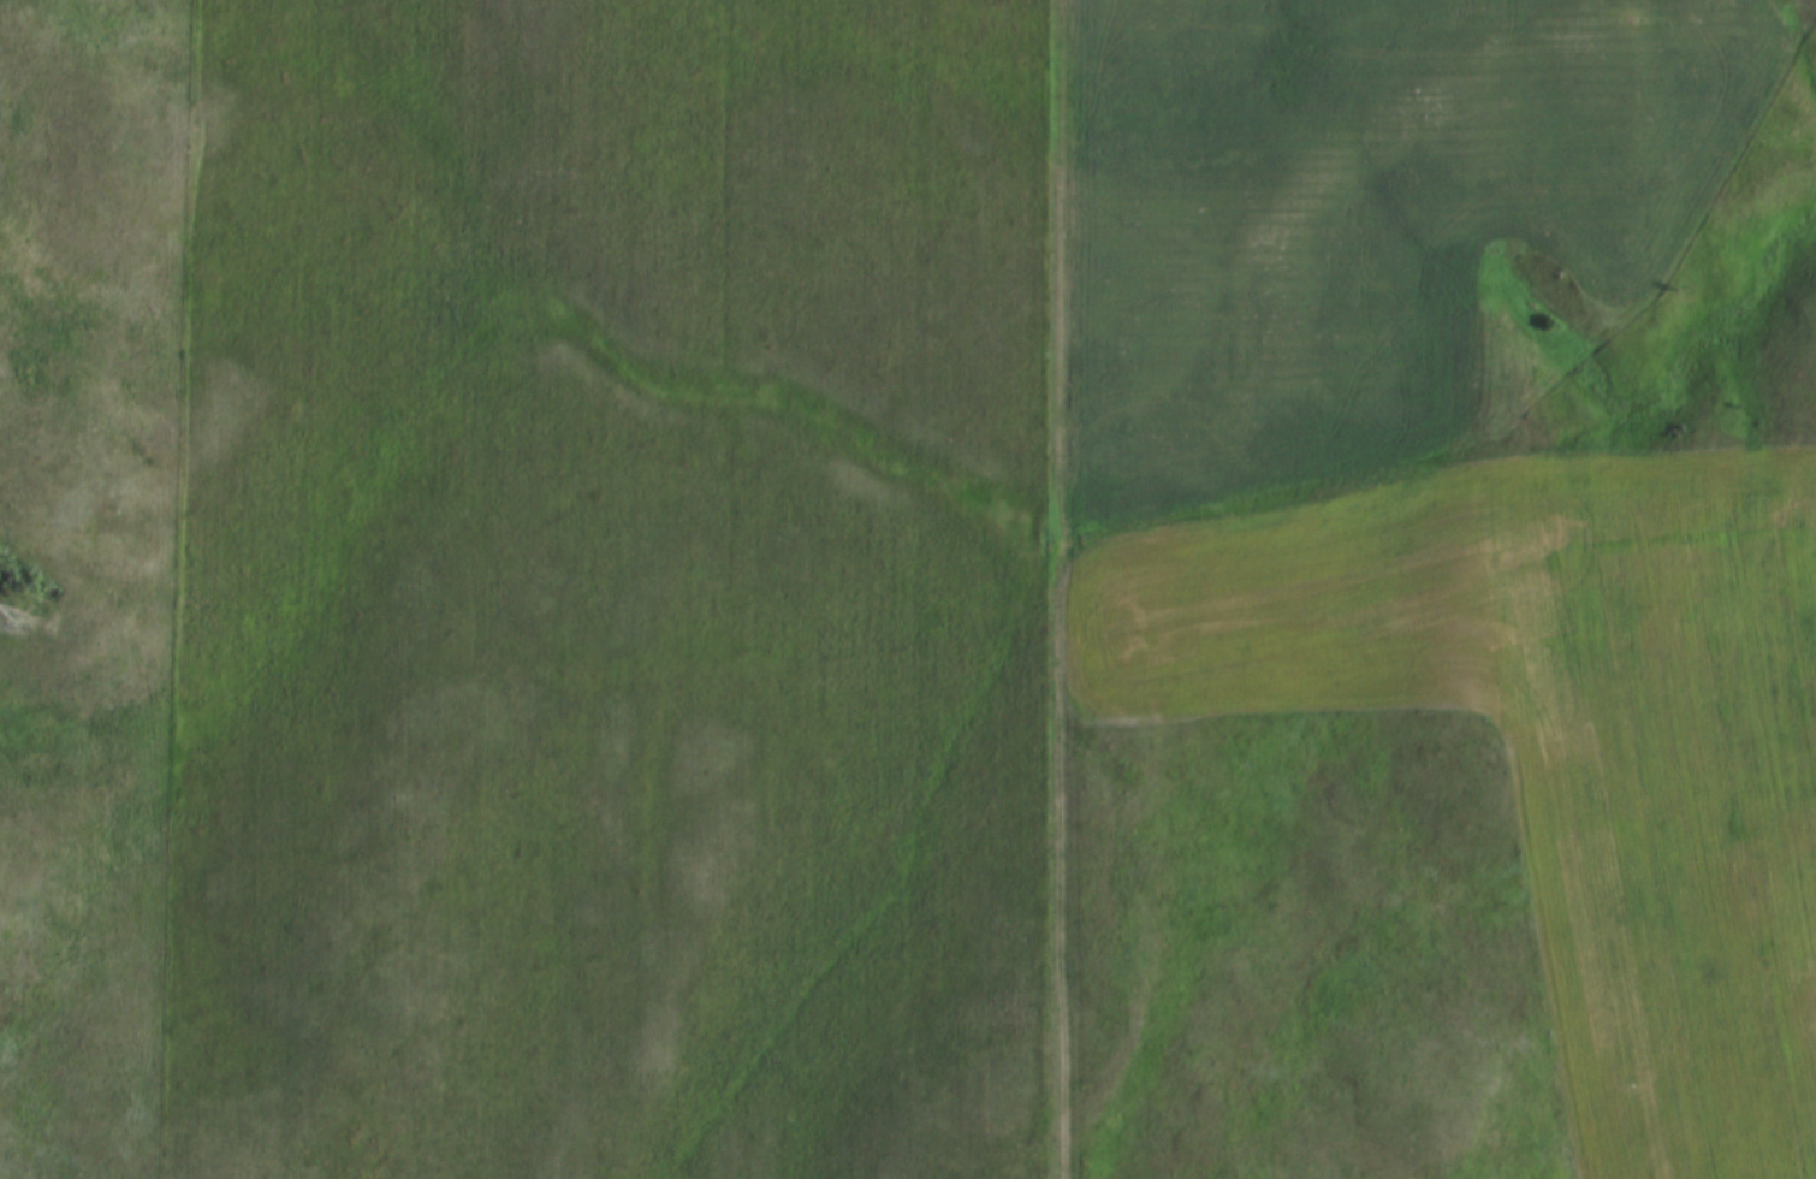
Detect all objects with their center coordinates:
road: (1478, 348)

